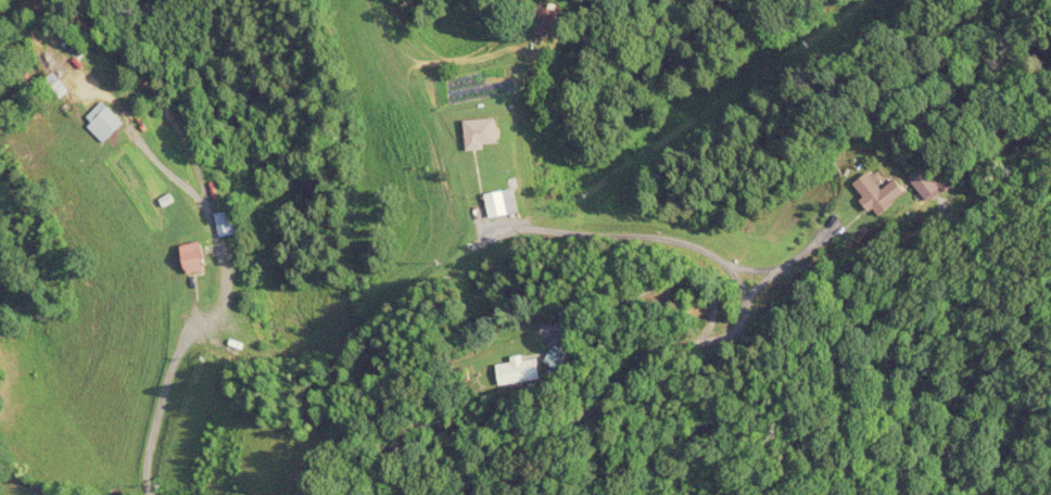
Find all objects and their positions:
building: (543, 18)
building: (104, 124)
building: (479, 131)
building: (925, 182)
building: (876, 191)
building: (501, 202)
building: (227, 221)
building: (192, 256)
road: (321, 343)
building: (517, 369)

